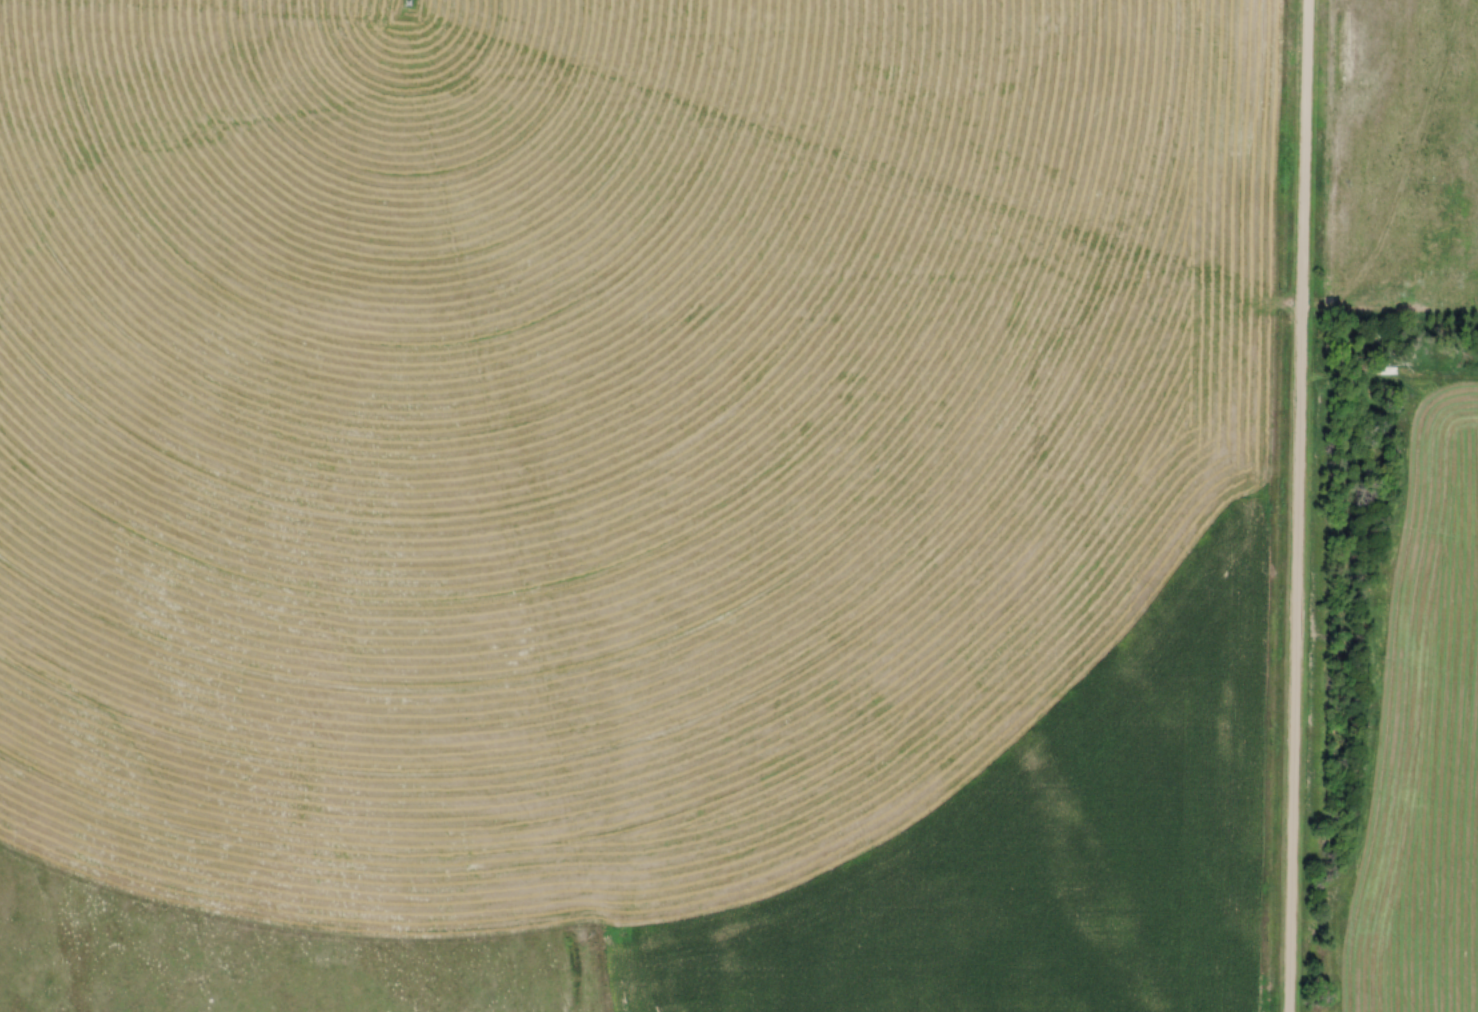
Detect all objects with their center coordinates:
road: (1300, 505)

